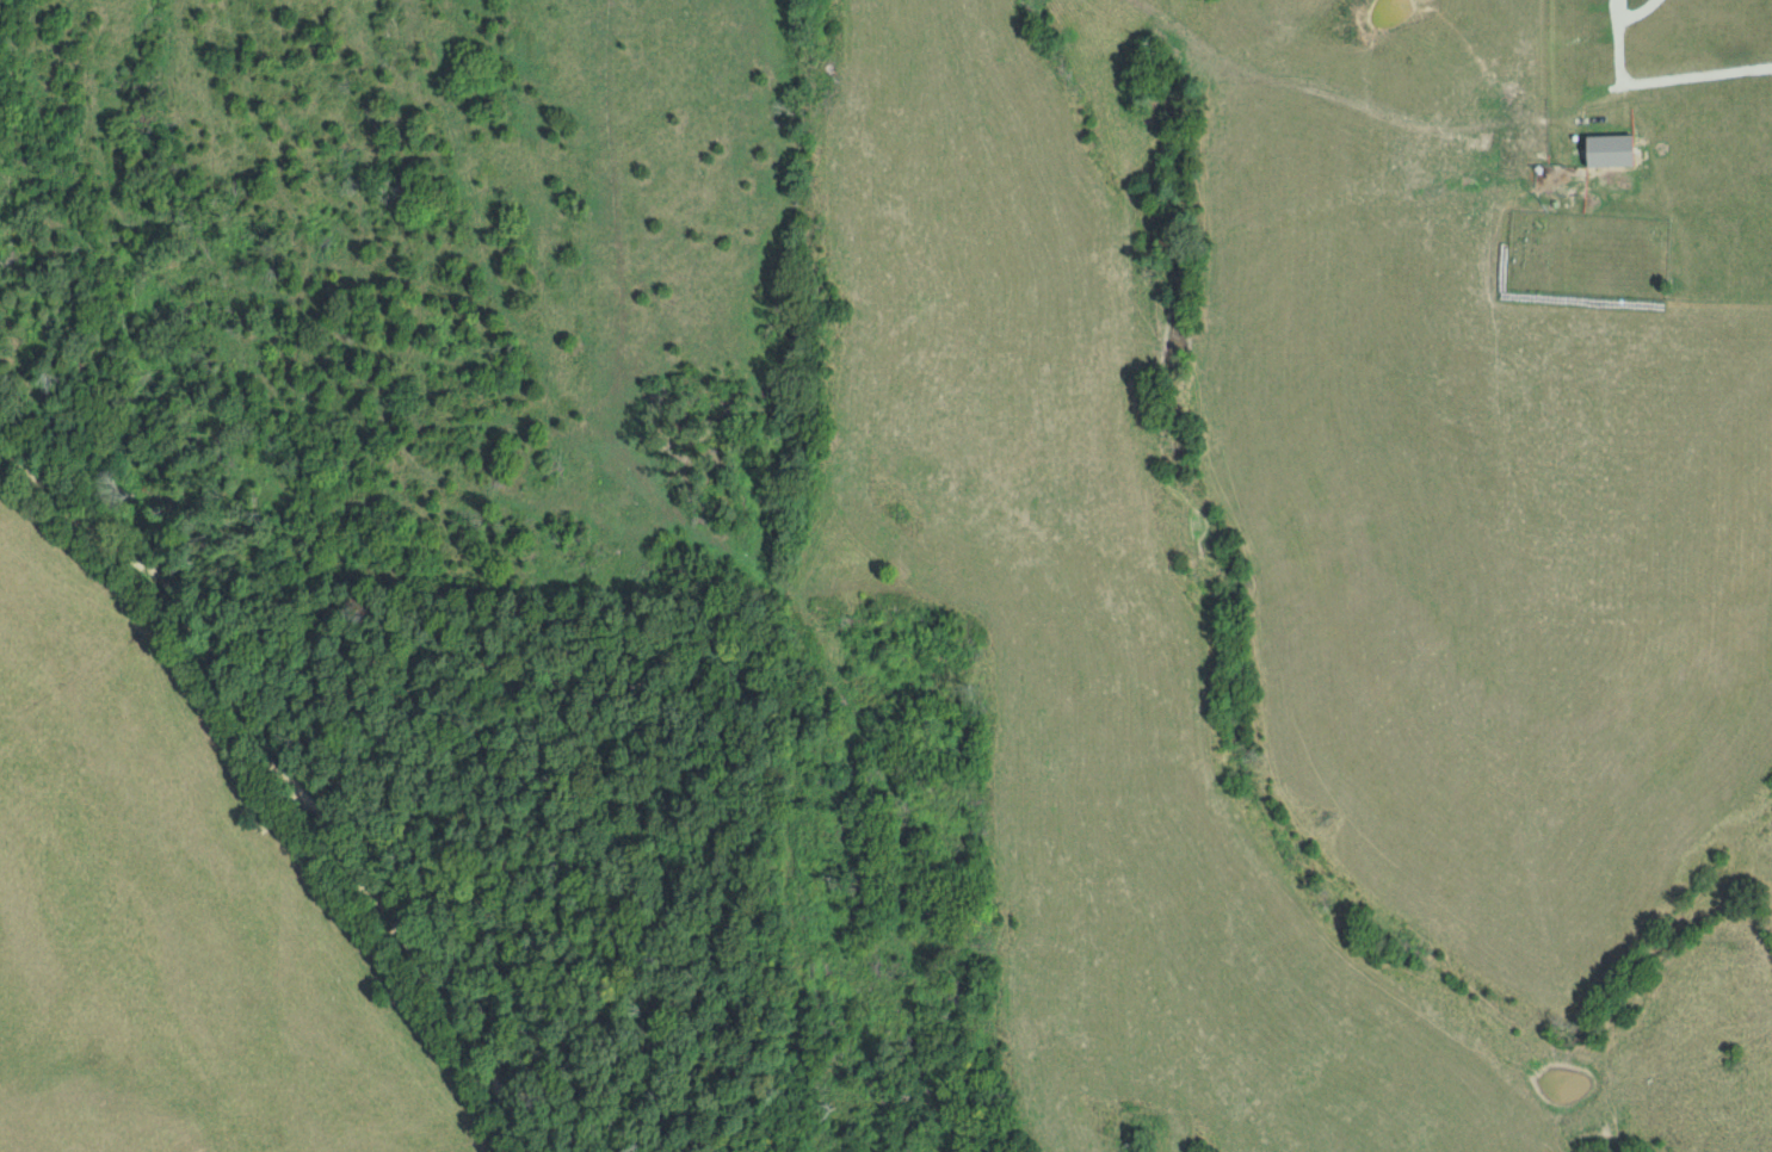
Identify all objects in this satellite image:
building: (1605, 150)
park: (1587, 254)

